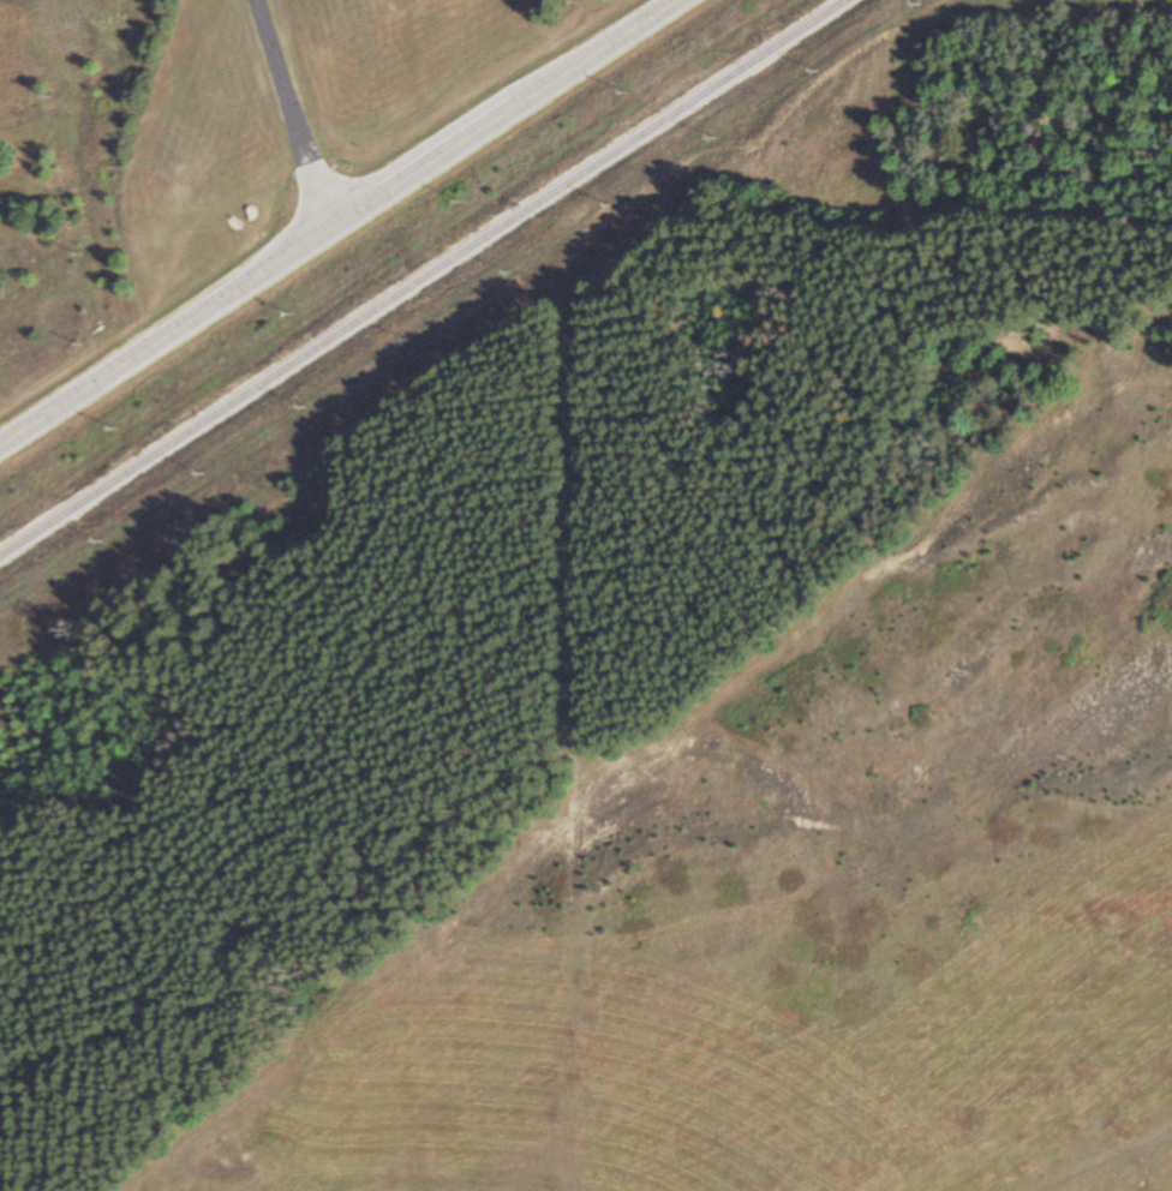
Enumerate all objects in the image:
airport: (346, 24)
road: (294, 110)
road: (336, 220)
railway: (423, 277)

